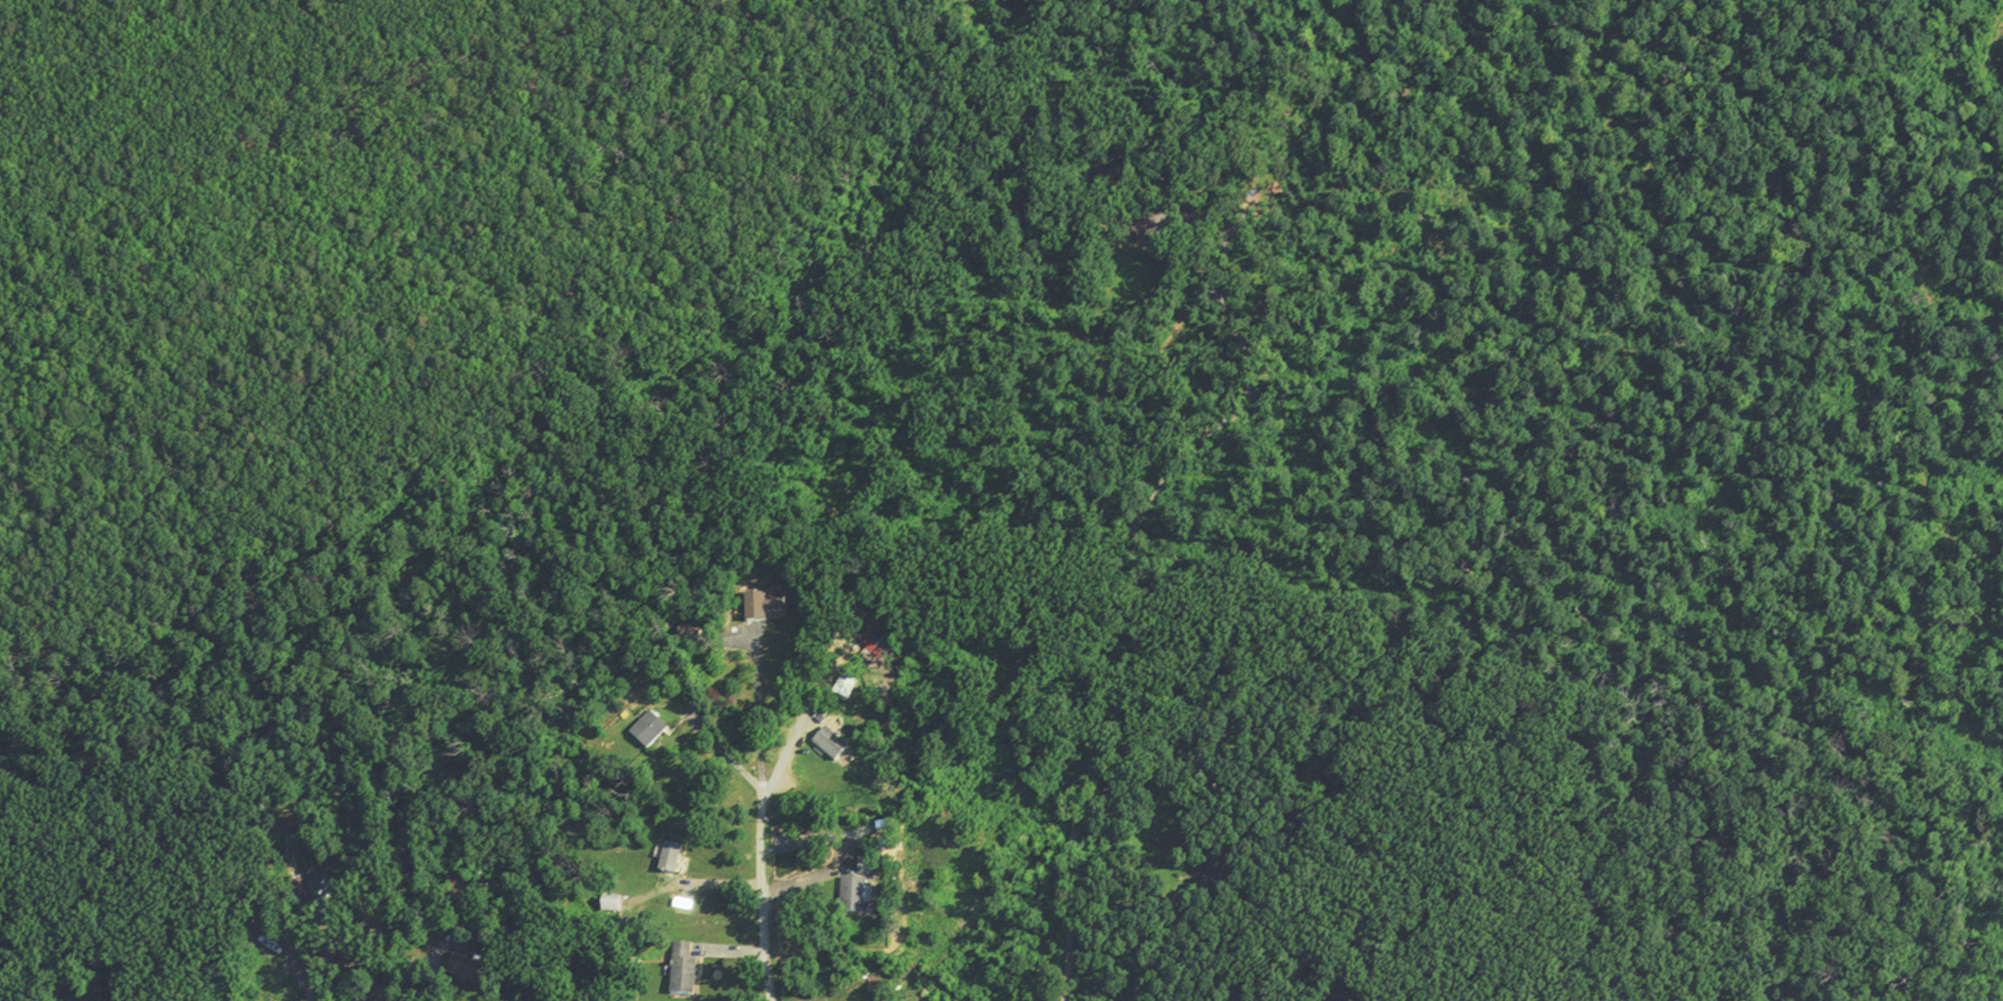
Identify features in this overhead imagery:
road: (385, 117)
road: (1075, 598)
building: (853, 687)
road: (760, 717)
building: (659, 733)
building: (841, 746)
road: (1205, 779)
building: (679, 860)
building: (875, 868)
road: (763, 873)
building: (323, 891)
building: (862, 896)
building: (472, 969)
building: (694, 973)

